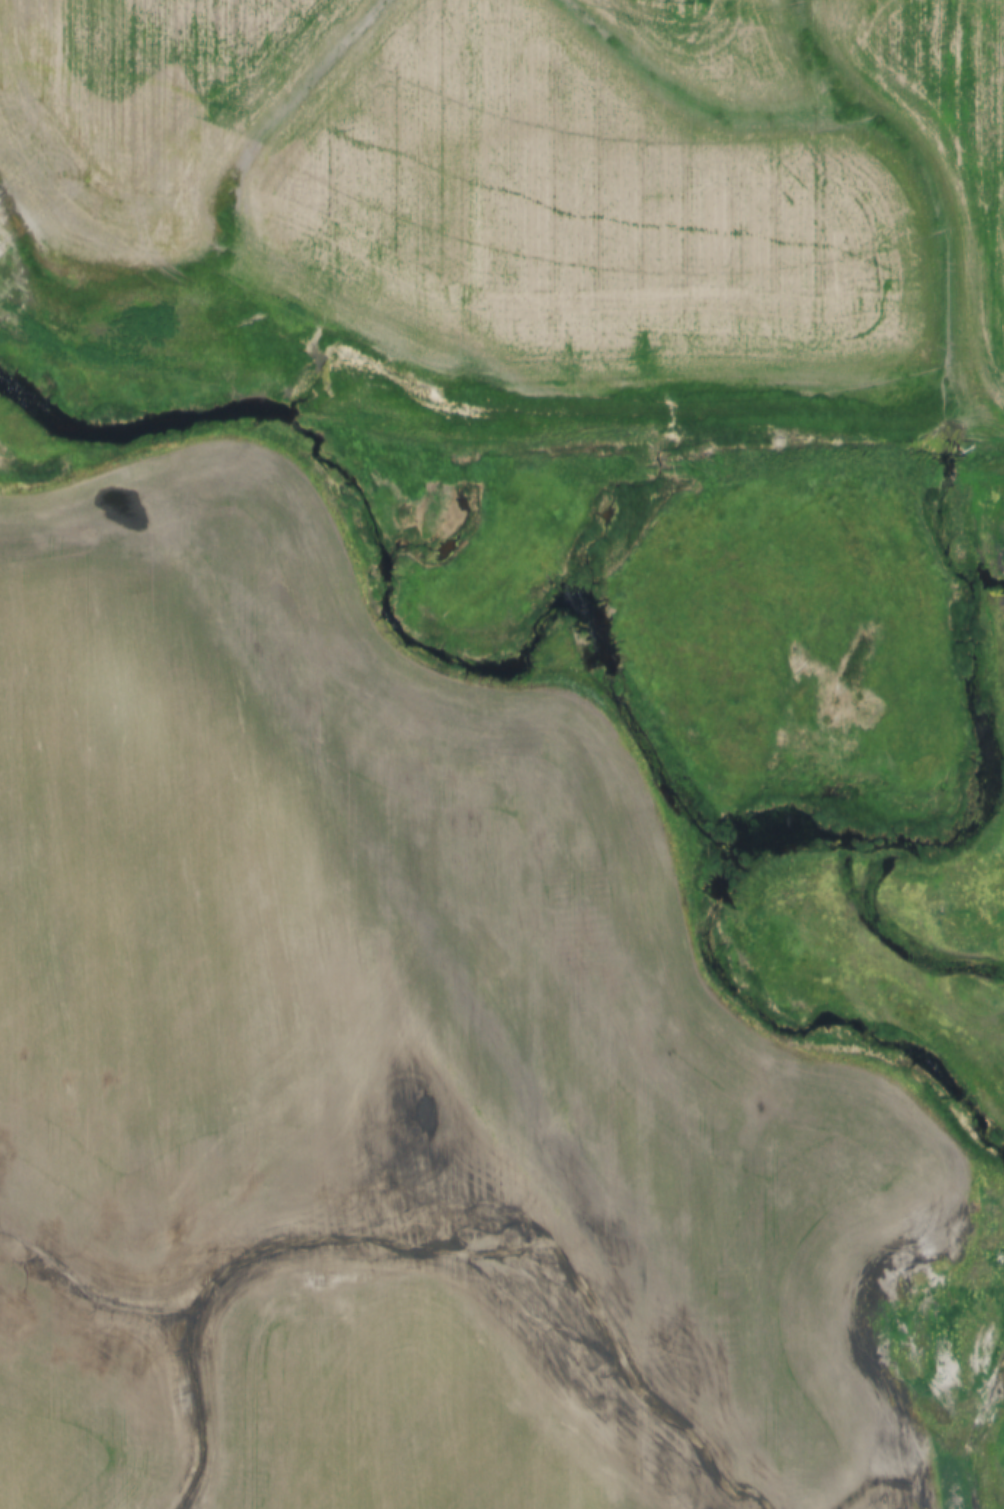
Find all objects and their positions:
road: (752, 18)
road: (973, 403)

